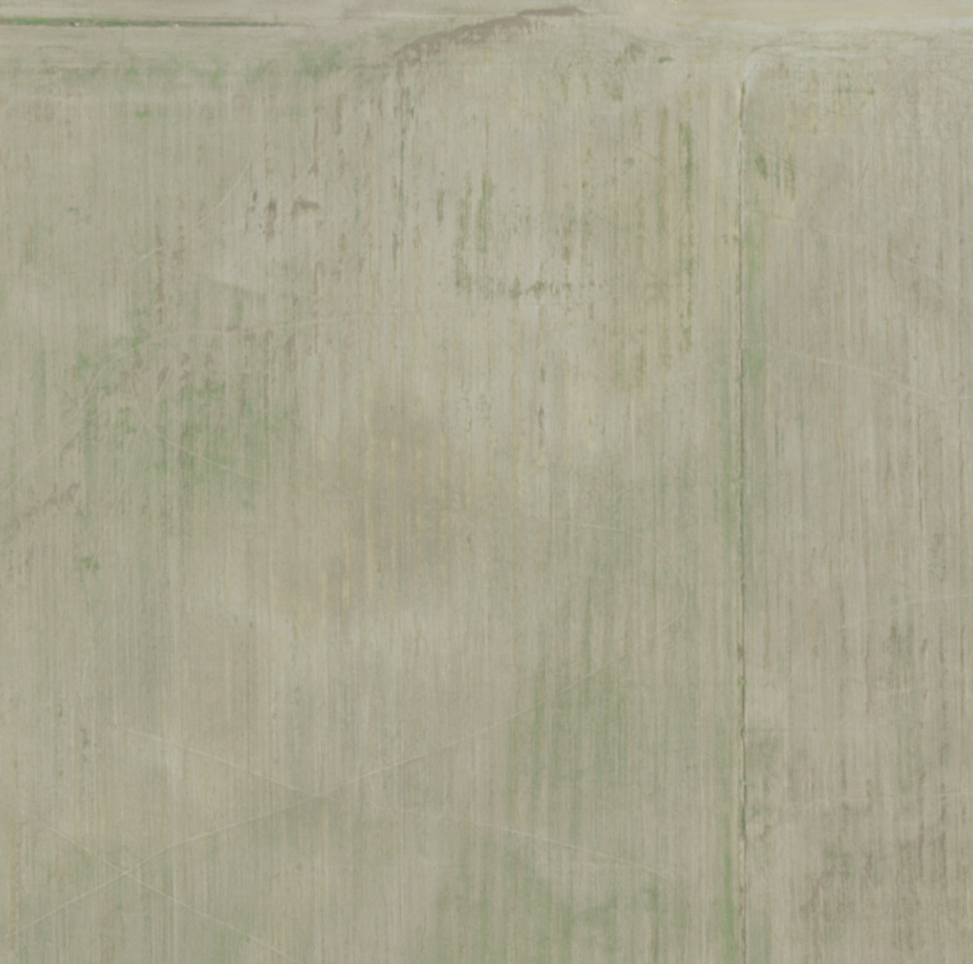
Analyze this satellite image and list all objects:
road: (486, 17)

